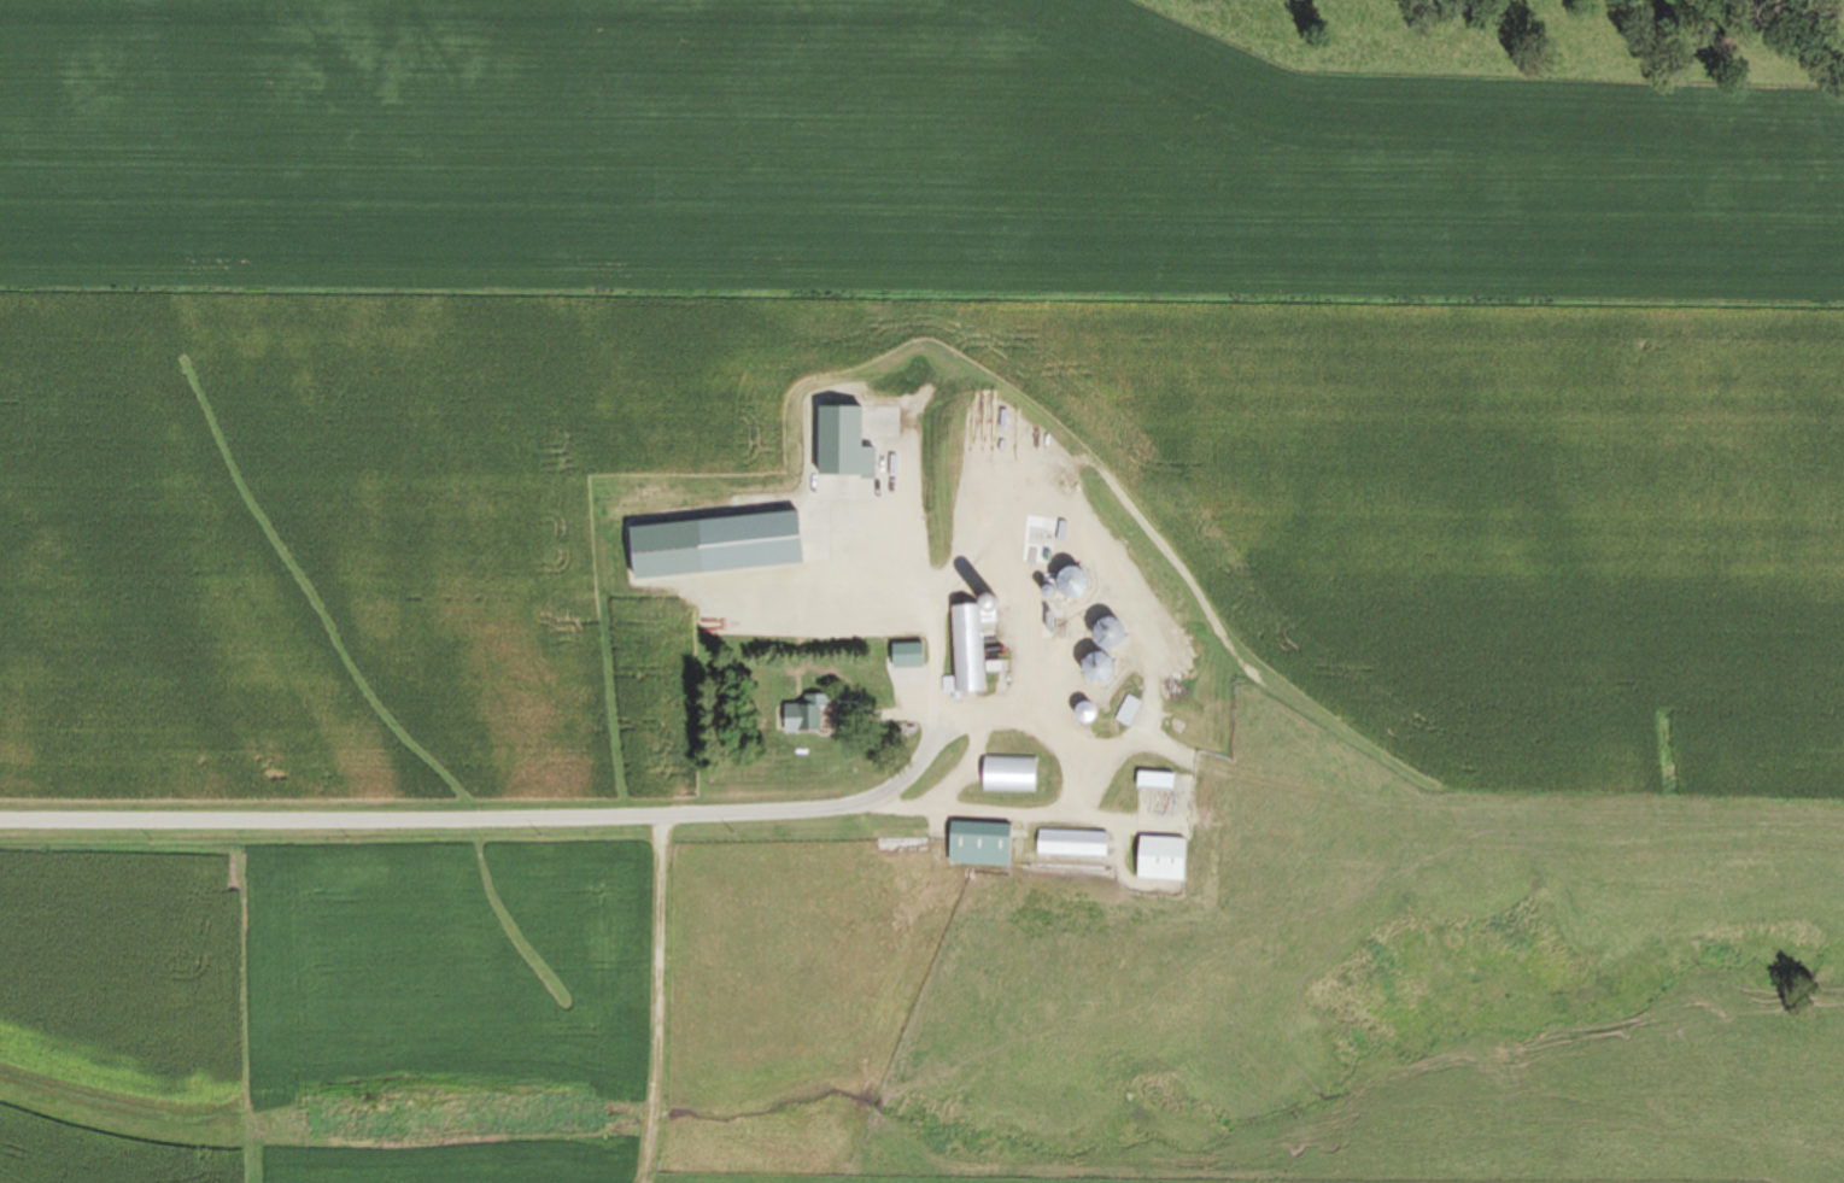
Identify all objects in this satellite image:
building: (753, 543)
building: (967, 649)
building: (1101, 667)
building: (1088, 710)
building: (1128, 710)
building: (808, 715)
building: (1011, 774)
building: (1155, 780)
road: (397, 821)
building: (1073, 843)
building: (982, 844)
building: (1163, 859)

